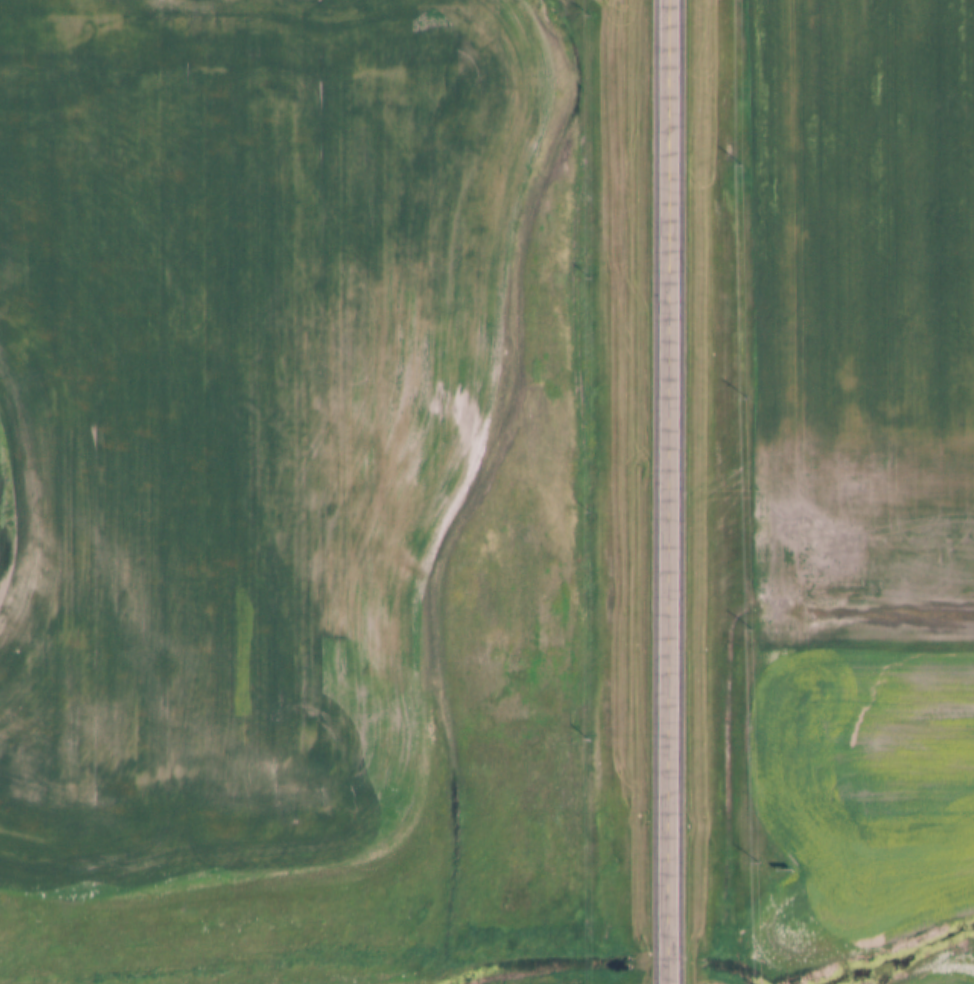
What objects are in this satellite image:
quarry: (2, 463)
road: (668, 492)

